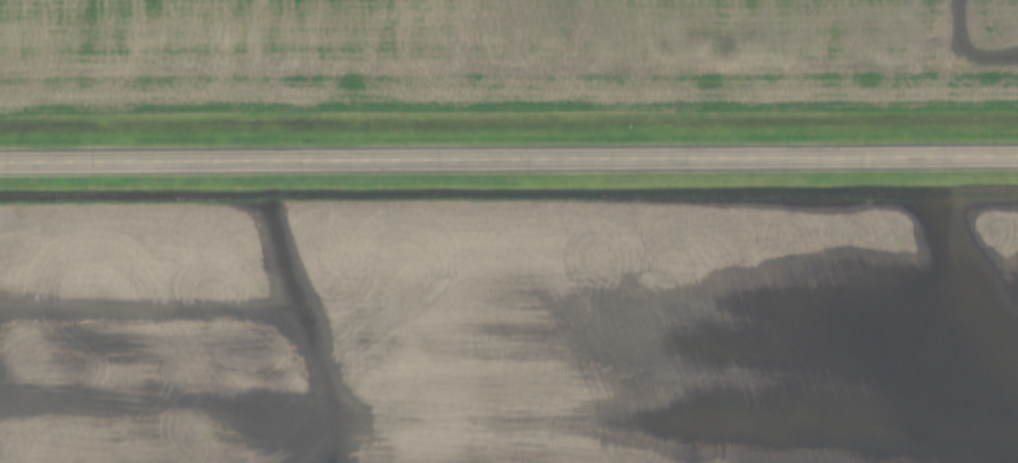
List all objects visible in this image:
crop: (506, 57)
road: (509, 161)
crop: (510, 333)

